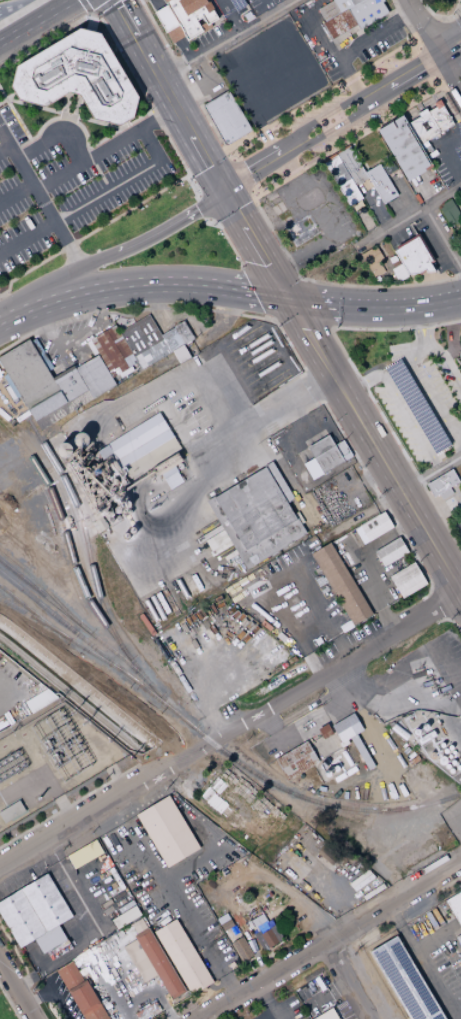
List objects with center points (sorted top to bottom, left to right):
road: (2, 0)
road: (155, 1)
road: (30, 3)
parking lot: (159, 3)
building: (342, 4)
road: (235, 5)
road: (268, 6)
road: (459, 6)
road: (88, 7)
road: (99, 7)
road: (197, 10)
building: (327, 11)
road: (459, 11)
road: (91, 15)
road: (207, 17)
road: (246, 18)
building: (353, 18)
road: (441, 18)
road: (439, 21)
road: (38, 22)
building: (199, 22)
road: (179, 23)
road: (215, 26)
road: (426, 30)
road: (426, 31)
road: (12, 33)
road: (373, 34)
road: (324, 37)
road: (224, 39)
road: (448, 42)
road: (449, 43)
road: (122, 57)
road: (452, 59)
road: (425, 66)
building: (80, 78)
road: (417, 80)
road: (450, 82)
road: (452, 82)
road: (188, 93)
road: (166, 96)
road: (359, 97)
building: (225, 117)
building: (427, 122)
road: (340, 126)
road: (266, 128)
road: (459, 128)
road: (55, 136)
road: (4, 147)
building: (401, 148)
road: (104, 150)
road: (226, 150)
road: (449, 158)
road: (207, 163)
building: (350, 164)
building: (388, 167)
road: (253, 169)
road: (239, 176)
building: (341, 179)
building: (379, 183)
parking lot: (72, 187)
traffic signals: (223, 191)
road: (16, 193)
road: (401, 196)
road: (96, 197)
road: (40, 199)
road: (208, 207)
road: (233, 207)
building: (276, 208)
building: (449, 212)
road: (409, 215)
road: (263, 216)
road: (366, 223)
road: (170, 226)
road: (330, 227)
building: (301, 231)
road: (90, 232)
building: (460, 237)
road: (442, 238)
road: (228, 243)
road: (254, 245)
building: (414, 256)
building: (392, 259)
building: (372, 261)
building: (399, 272)
road: (271, 273)
road: (68, 277)
road: (118, 287)
road: (249, 292)
road: (256, 293)
traffic signals: (286, 299)
road: (314, 304)
road: (225, 305)
road: (156, 307)
road: (373, 308)
road: (13, 315)
road: (0, 320)
road: (272, 320)
road: (300, 323)
road: (411, 323)
road: (428, 325)
road: (330, 329)
building: (182, 331)
road: (285, 338)
building: (171, 339)
road: (73, 340)
building: (144, 341)
building: (121, 345)
road: (423, 351)
building: (108, 353)
building: (181, 354)
building: (460, 357)
road: (365, 363)
road: (448, 364)
road: (234, 369)
road: (363, 378)
building: (52, 383)
road: (361, 383)
road: (377, 385)
parking lot: (431, 390)
road: (430, 394)
road: (280, 405)
road: (456, 427)
road: (372, 446)
building: (141, 447)
building: (328, 453)
road: (239, 464)
road: (430, 474)
building: (460, 481)
building: (441, 483)
road: (360, 484)
building: (444, 494)
building: (257, 515)
building: (372, 528)
railway: (82, 530)
building: (389, 552)
road: (366, 563)
building: (406, 580)
road: (448, 582)
building: (340, 584)
railway: (42, 587)
railway: (82, 587)
road: (432, 590)
road: (442, 603)
road: (238, 607)
road: (316, 608)
road: (455, 612)
railway: (24, 613)
road: (449, 618)
road: (449, 621)
railway: (76, 624)
railway: (58, 633)
road: (344, 684)
road: (367, 690)
road: (13, 692)
building: (39, 701)
road: (216, 724)
road: (270, 728)
building: (345, 728)
road: (231, 729)
railway: (209, 741)
building: (324, 743)
building: (295, 760)
power substation: (49, 761)
building: (333, 765)
road: (375, 771)
road: (117, 777)
road: (68, 805)
road: (64, 808)
building: (167, 832)
building: (84, 854)
road: (159, 881)
road: (450, 882)
building: (454, 906)
road: (342, 912)
building: (36, 914)
building: (124, 917)
building: (227, 926)
road: (95, 927)
building: (263, 932)
road: (434, 936)
road: (199, 938)
building: (458, 940)
road: (330, 942)
road: (251, 948)
building: (241, 950)
building: (183, 957)
road: (422, 963)
building: (160, 964)
road: (346, 981)
building: (405, 981)
road: (150, 984)
road: (16, 991)
road: (51, 991)
road: (111, 991)
road: (328, 992)
building: (81, 993)
road: (454, 999)
road: (265, 1002)
road: (9, 1003)
park: (5, 1010)
building: (326, 1015)
road: (201, 1018)

